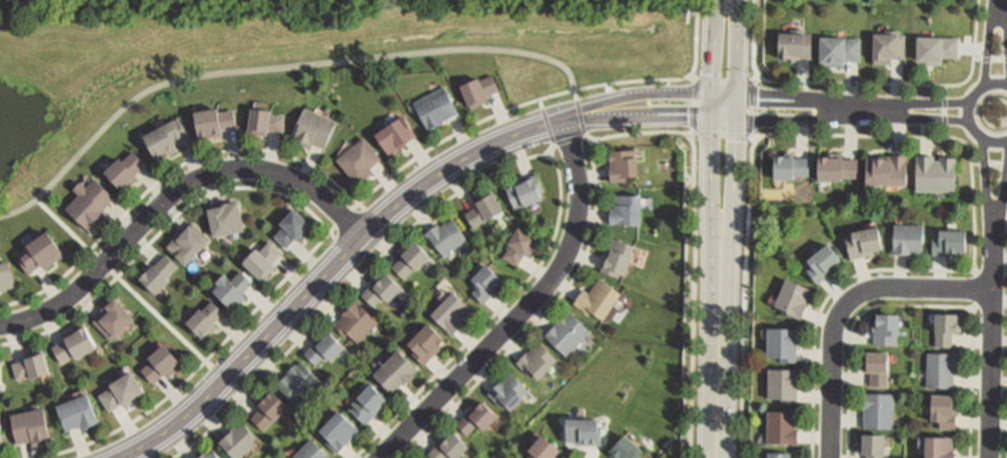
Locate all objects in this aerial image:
crop: (299, 3)
road: (1004, 11)
building: (796, 42)
road: (988, 43)
building: (888, 45)
road: (715, 46)
building: (937, 46)
building: (841, 52)
road: (980, 58)
road: (997, 59)
road: (739, 60)
park: (301, 63)
road: (276, 69)
road: (694, 78)
road: (757, 79)
road: (753, 82)
road: (865, 84)
building: (481, 92)
road: (944, 92)
traffic signals: (712, 94)
traffic signals: (738, 95)
road: (627, 96)
road: (780, 99)
road: (539, 100)
road: (926, 104)
building: (436, 106)
road: (865, 112)
road: (968, 113)
road: (643, 117)
road: (582, 118)
road: (943, 118)
building: (213, 119)
building: (264, 119)
traffic signals: (712, 119)
road: (927, 119)
traffic signals: (738, 121)
road: (548, 122)
road: (793, 122)
building: (313, 127)
building: (394, 133)
road: (701, 133)
building: (166, 135)
road: (692, 135)
road: (611, 137)
road: (923, 137)
road: (571, 141)
road: (592, 141)
road: (552, 151)
building: (361, 162)
road: (978, 162)
road: (996, 162)
building: (622, 163)
building: (790, 164)
building: (837, 166)
building: (123, 167)
building: (887, 167)
road: (228, 171)
road: (500, 171)
road: (170, 174)
building: (937, 176)
building: (526, 189)
road: (988, 194)
building: (90, 201)
road: (1002, 207)
building: (626, 208)
building: (483, 209)
road: (713, 212)
building: (225, 216)
road: (345, 217)
building: (293, 226)
road: (732, 226)
road: (163, 230)
road: (70, 232)
building: (446, 234)
building: (908, 237)
building: (864, 240)
building: (949, 240)
building: (187, 241)
building: (520, 244)
building: (39, 251)
building: (617, 256)
building: (410, 257)
building: (262, 258)
building: (824, 261)
building: (158, 272)
building: (5, 273)
road: (326, 275)
road: (988, 275)
building: (485, 282)
building: (233, 286)
building: (382, 287)
road: (977, 290)
park: (131, 291)
building: (793, 296)
building: (597, 297)
road: (57, 304)
road: (844, 306)
road: (916, 306)
road: (528, 307)
road: (974, 309)
building: (450, 310)
building: (112, 316)
building: (205, 316)
building: (356, 319)
road: (164, 321)
building: (947, 325)
building: (886, 327)
building: (566, 331)
building: (426, 341)
building: (783, 342)
building: (72, 343)
building: (324, 346)
road: (991, 354)
building: (535, 358)
building: (159, 361)
road: (206, 361)
building: (30, 364)
building: (878, 365)
building: (940, 368)
building: (395, 369)
building: (0, 375)
building: (298, 379)
building: (784, 382)
building: (121, 389)
building: (507, 389)
road: (719, 394)
building: (368, 401)
building: (269, 408)
building: (944, 408)
building: (878, 409)
building: (76, 411)
building: (477, 416)
building: (30, 425)
building: (781, 426)
building: (338, 429)
building: (585, 429)
building: (1, 437)
building: (236, 438)
building: (874, 444)
building: (448, 446)
building: (939, 446)
building: (544, 447)
building: (626, 447)
building: (311, 450)
building: (780, 454)
building: (207, 455)

